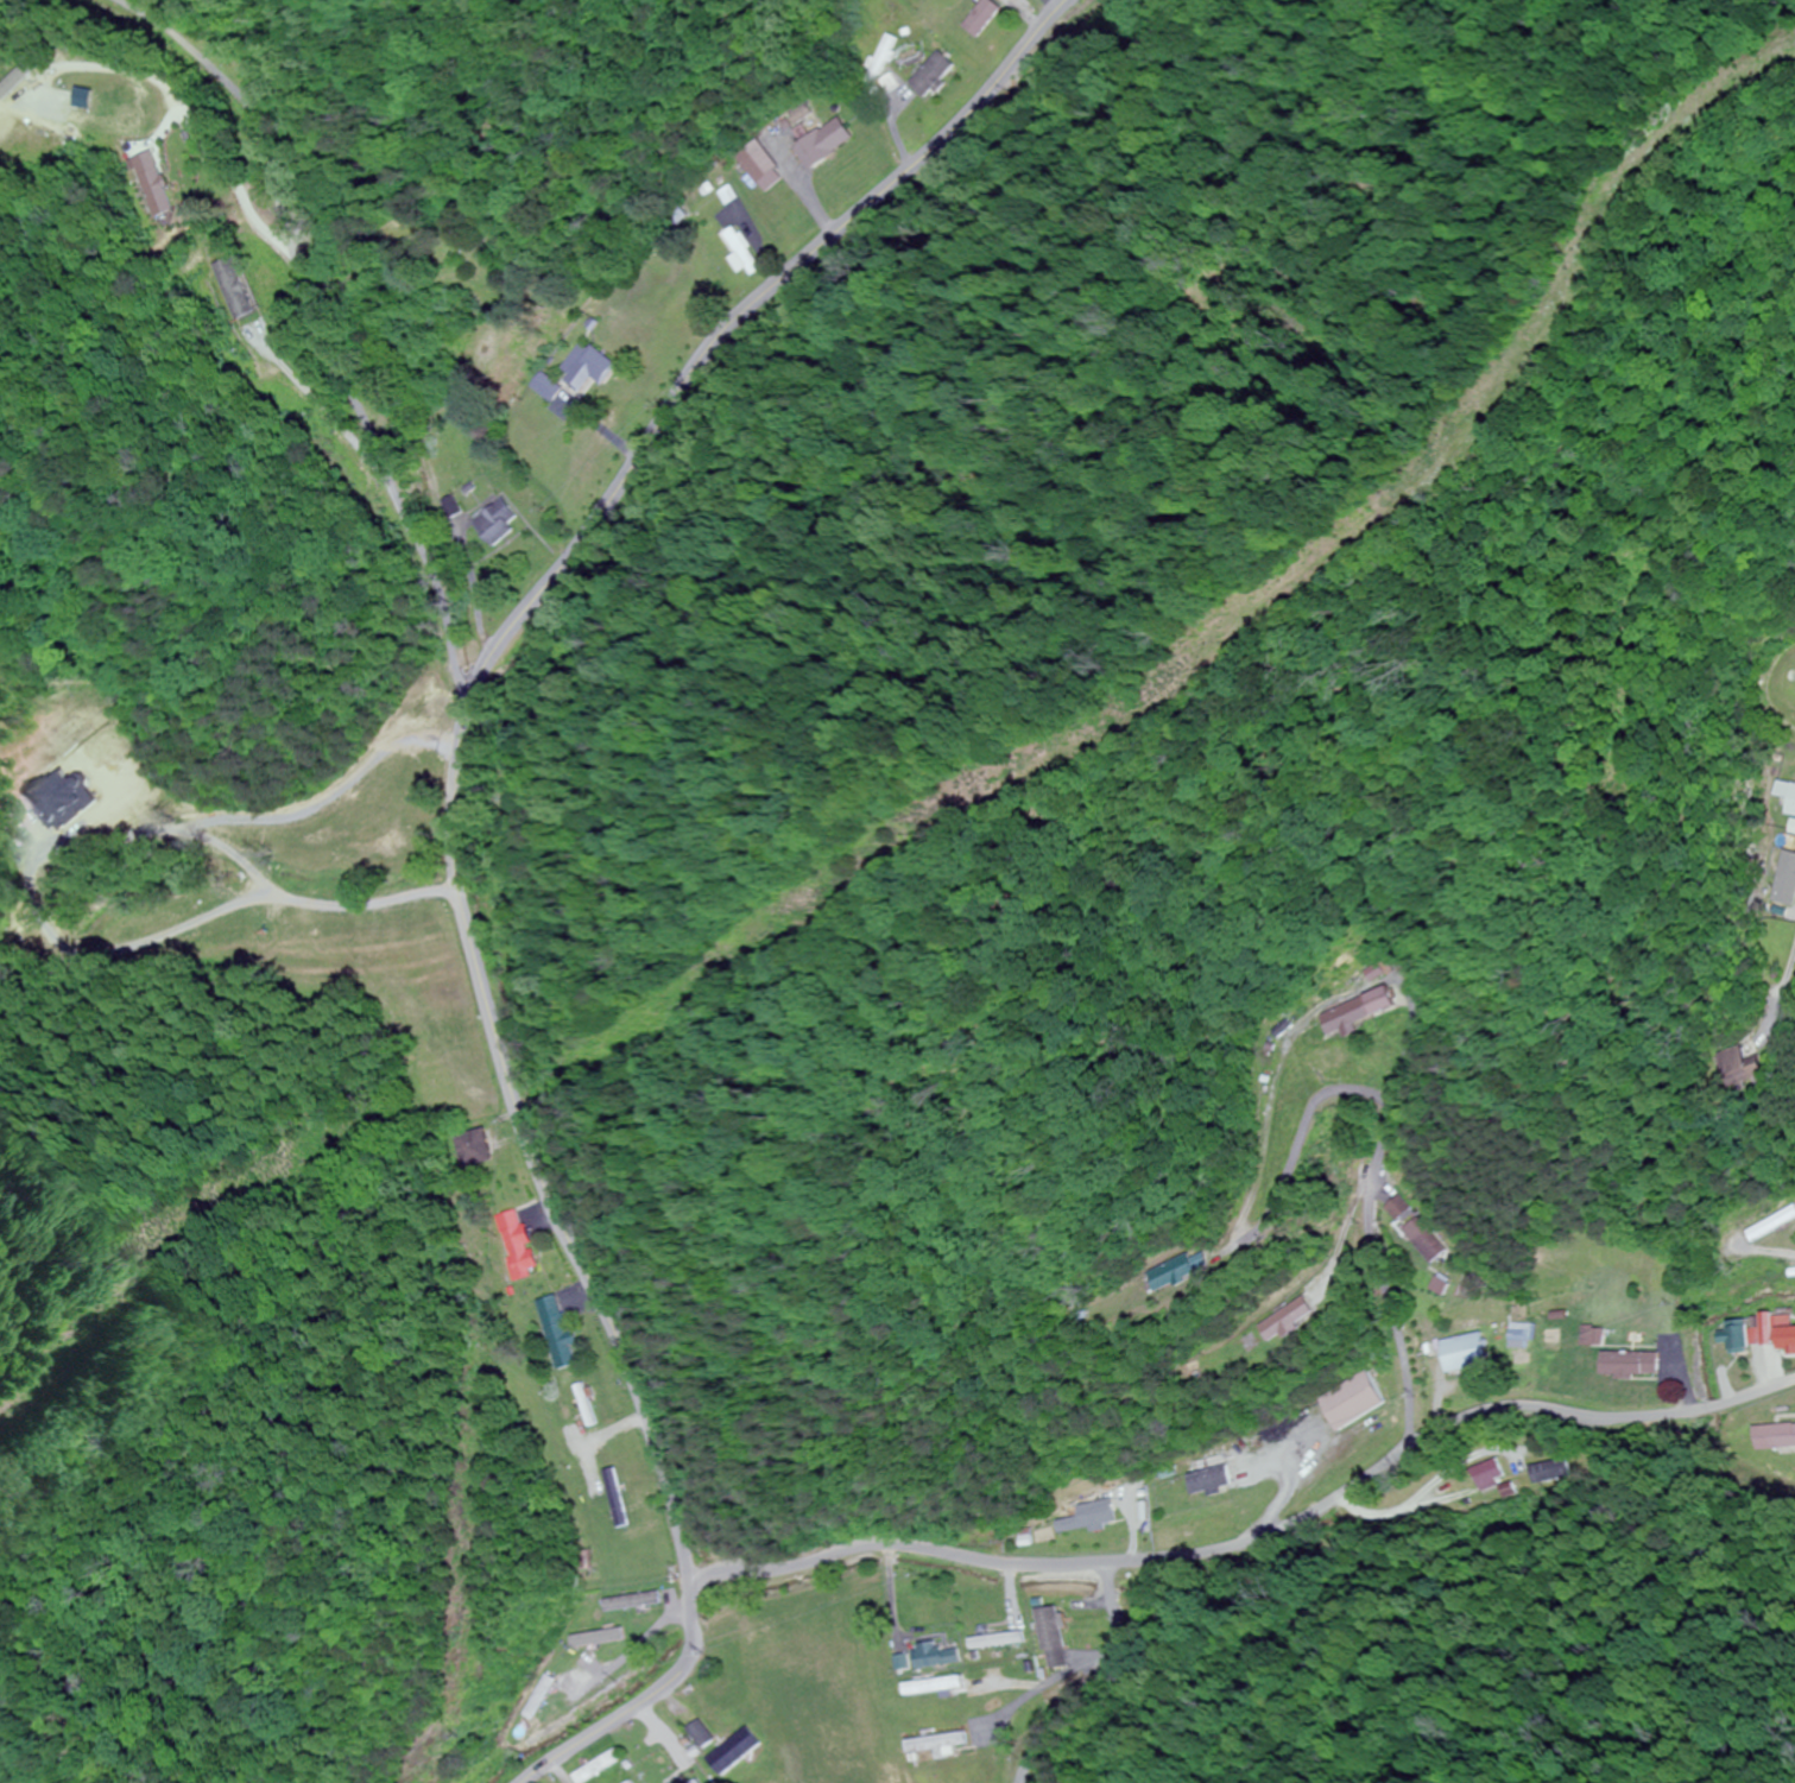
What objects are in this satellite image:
road: (1044, 7)
building: (980, 19)
building: (930, 77)
building: (138, 107)
road: (209, 135)
building: (821, 145)
building: (754, 167)
building: (158, 194)
building: (740, 252)
building: (703, 268)
road: (322, 331)
building: (582, 367)
building: (542, 388)
road: (318, 398)
building: (448, 506)
building: (494, 523)
building: (1784, 798)
road: (451, 841)
building: (1781, 878)
building: (312, 918)
road: (1783, 986)
building: (1358, 1012)
building: (1739, 1069)
building: (470, 1149)
building: (1395, 1209)
building: (1772, 1225)
building: (1423, 1240)
building: (514, 1245)
building: (1170, 1275)
building: (1288, 1321)
building: (556, 1333)
building: (1759, 1333)
building: (1461, 1354)
building: (1630, 1364)
building: (1351, 1402)
building: (583, 1406)
building: (1774, 1436)
building: (1550, 1472)
building: (1489, 1474)
building: (1207, 1480)
building: (1087, 1517)
building: (1212, 1529)
road: (1253, 1530)
building: (633, 1601)
building: (1049, 1638)
building: (996, 1640)
building: (570, 1642)
building: (935, 1657)
road: (1079, 1675)
building: (526, 1711)
building: (938, 1745)
building: (727, 1751)

